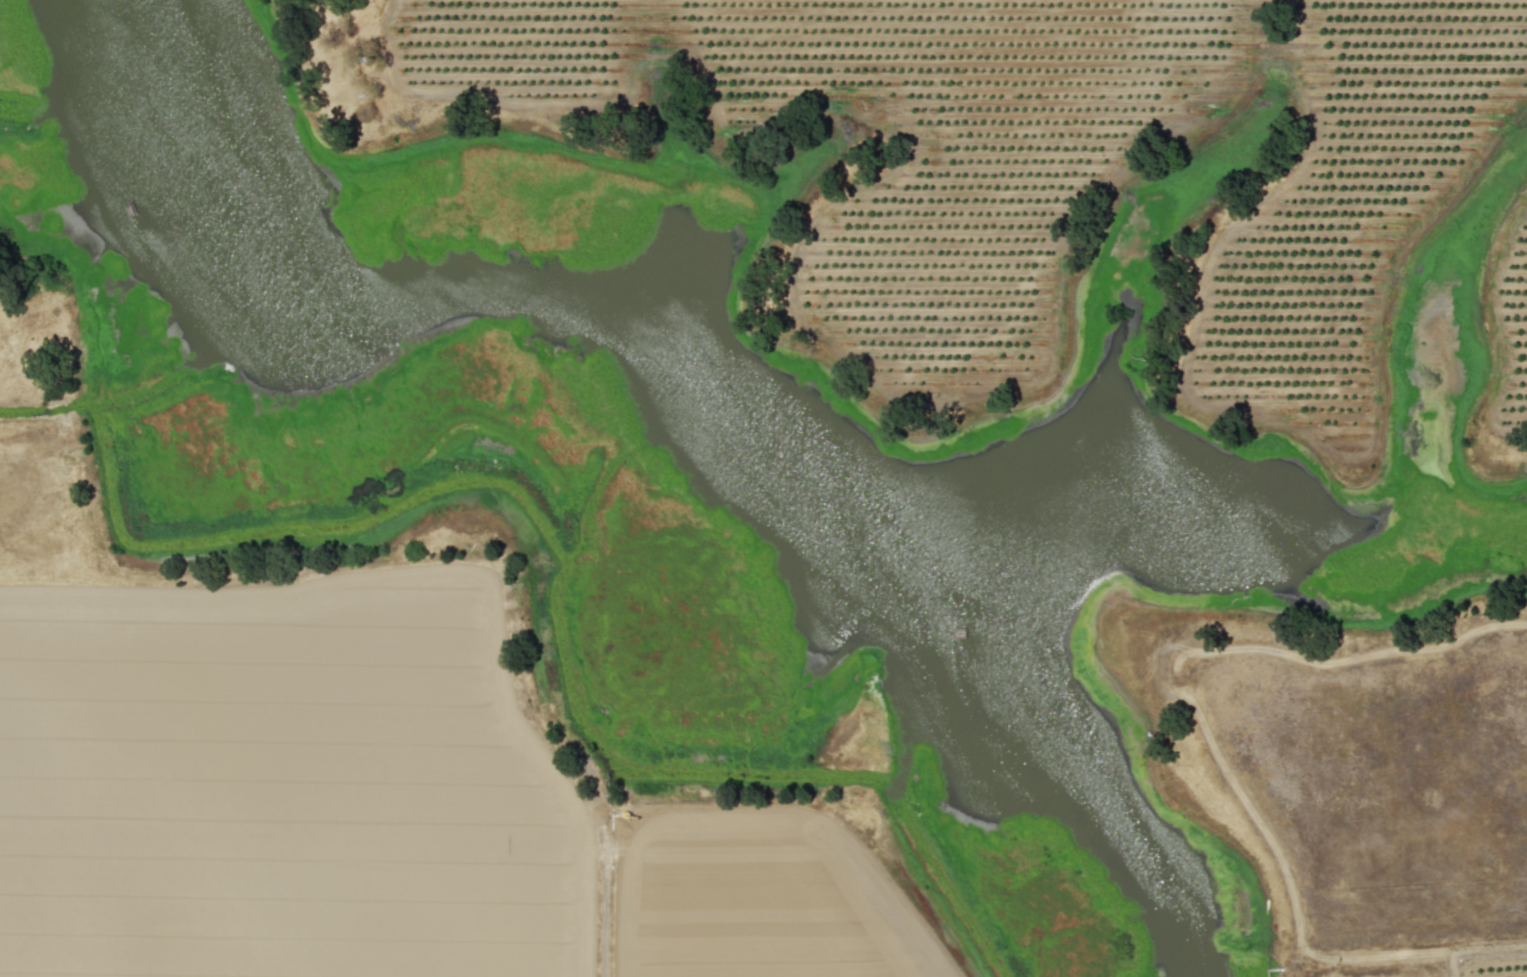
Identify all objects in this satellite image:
crop: (387, 791)

